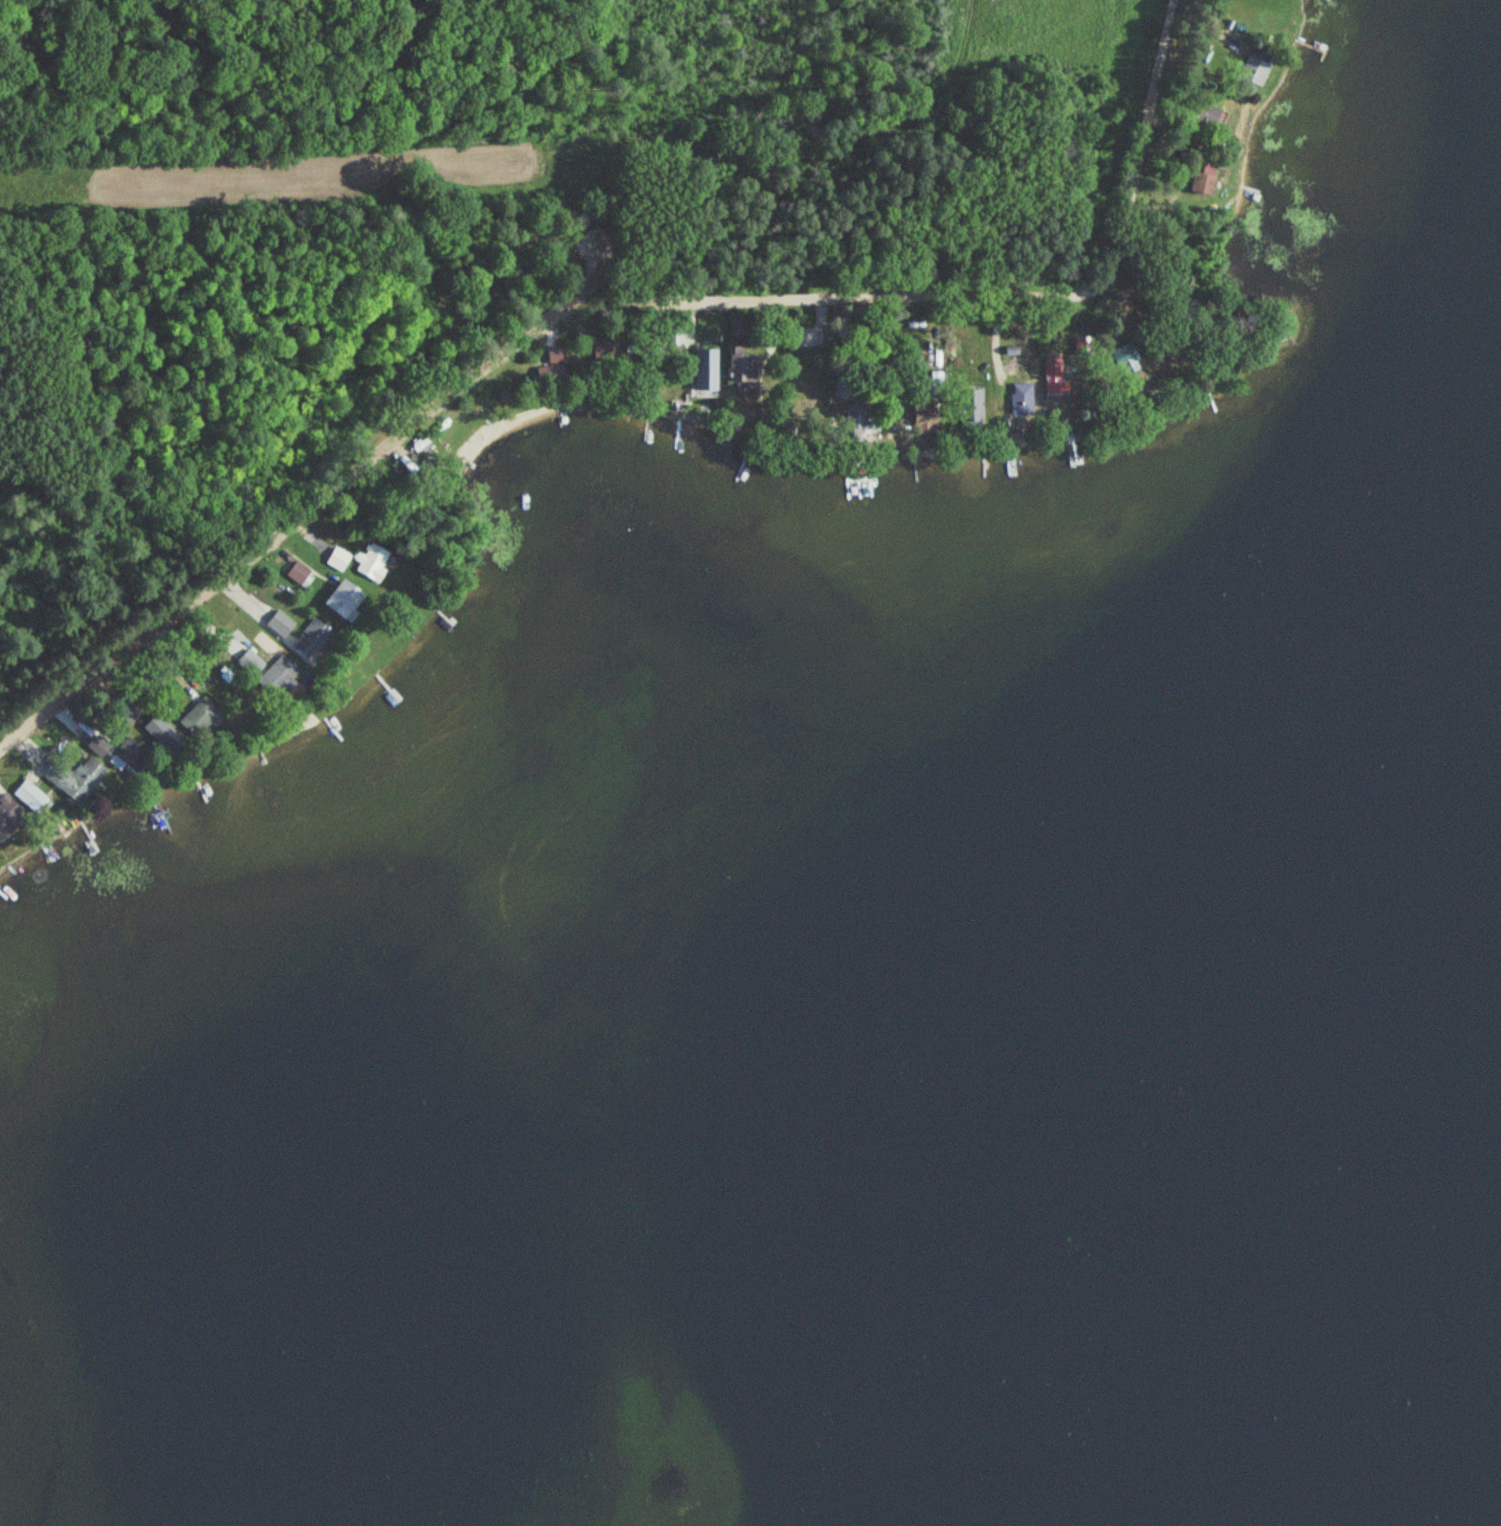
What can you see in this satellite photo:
building: (1253, 71)
building: (1198, 184)
road: (1045, 294)
building: (790, 337)
building: (1050, 365)
building: (552, 366)
building: (742, 368)
building: (703, 370)
building: (1019, 399)
building: (968, 409)
road: (311, 506)
building: (337, 559)
building: (372, 561)
building: (298, 573)
road: (235, 588)
building: (341, 599)
road: (256, 607)
building: (280, 623)
building: (310, 637)
building: (276, 676)
building: (198, 716)
building: (166, 736)
building: (131, 755)
building: (29, 795)
building: (8, 811)

